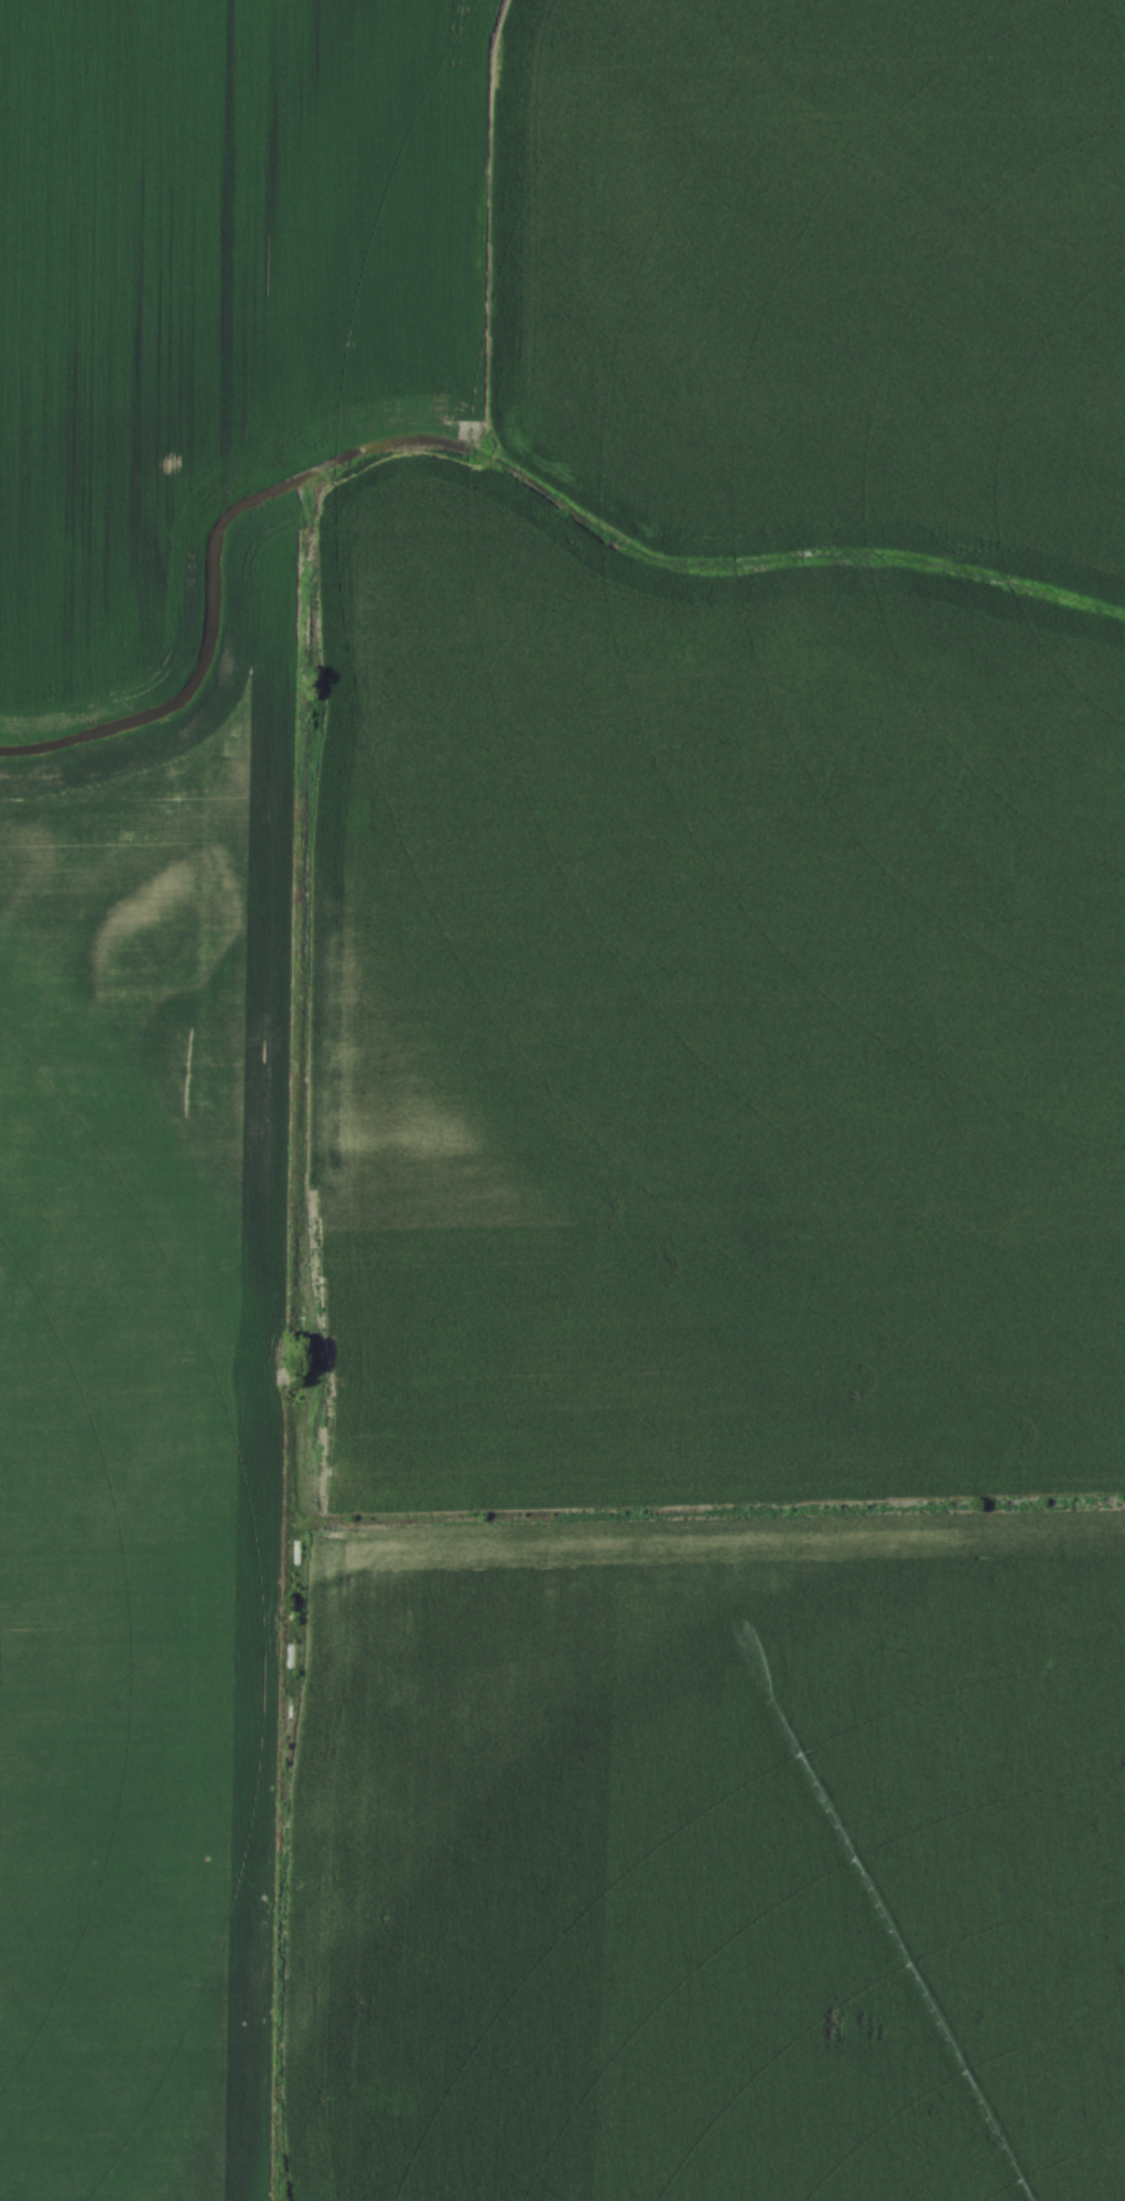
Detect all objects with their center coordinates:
crop: (142, 1422)

